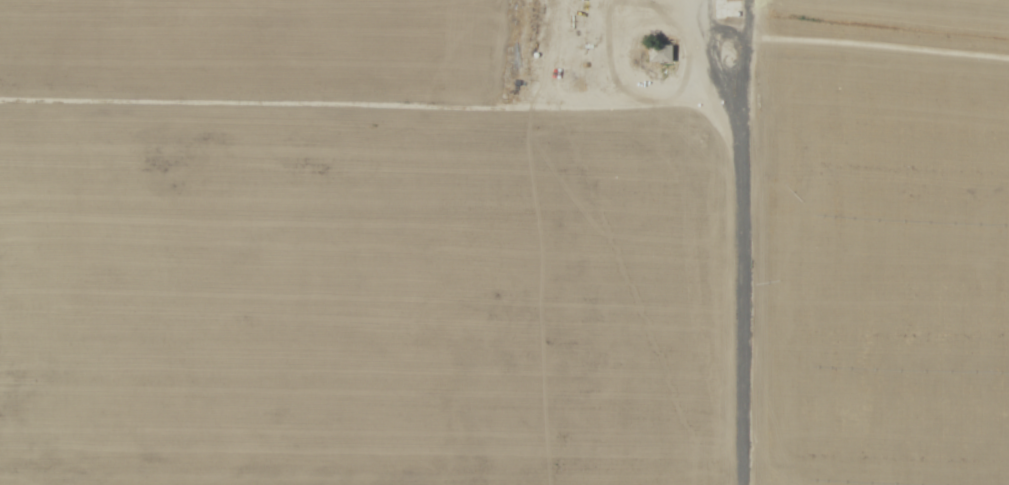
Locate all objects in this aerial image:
building: (660, 54)
crop: (504, 242)
road: (744, 243)

